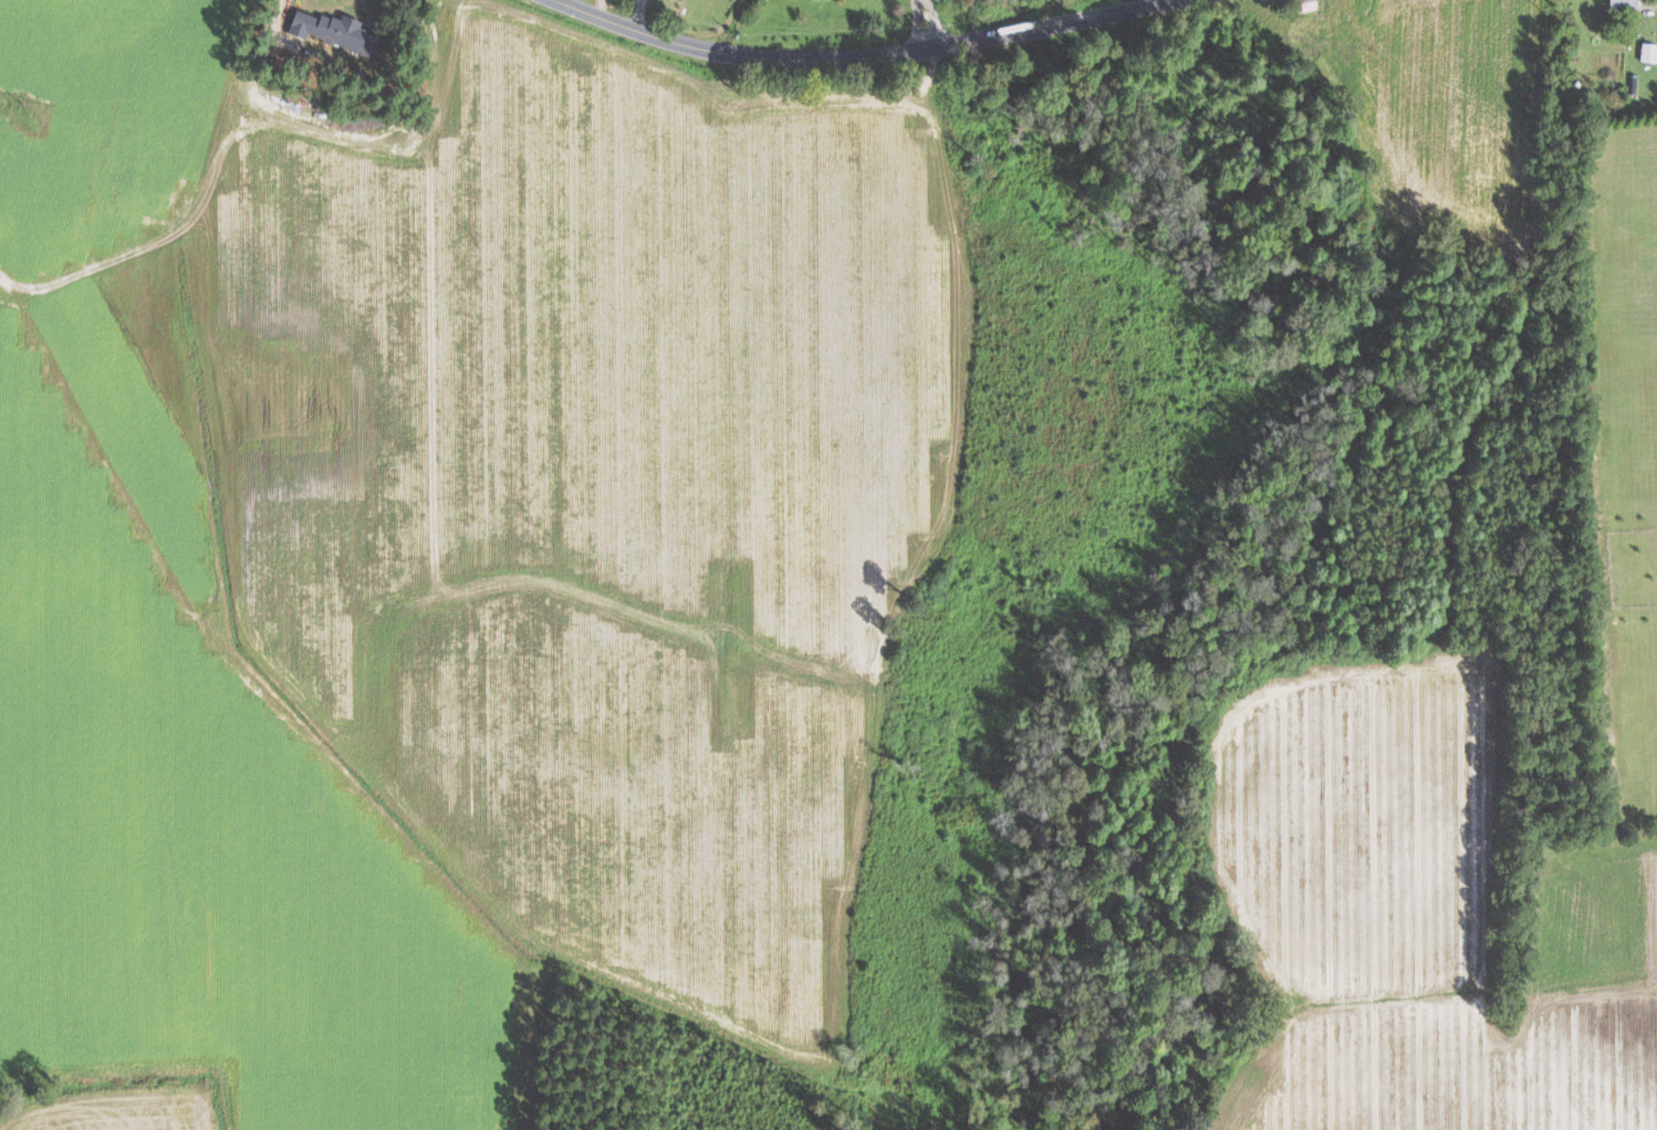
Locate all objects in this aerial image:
building: (1619, 3)
building: (1301, 4)
road: (271, 15)
road: (923, 25)
building: (329, 30)
building: (1647, 52)
road: (868, 59)

